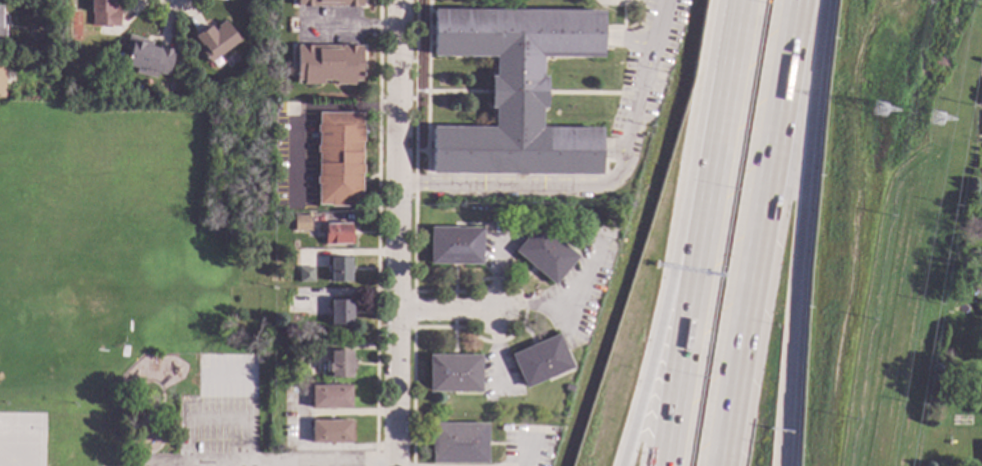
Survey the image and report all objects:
building: (328, 3)
building: (0, 13)
building: (103, 13)
road: (737, 26)
road: (351, 29)
building: (2, 37)
building: (215, 40)
building: (146, 58)
building: (327, 64)
building: (1, 78)
building: (101, 82)
building: (137, 88)
building: (515, 92)
road: (297, 109)
power tower: (880, 114)
power tower: (934, 124)
building: (981, 128)
building: (338, 159)
road: (603, 184)
building: (981, 201)
building: (301, 224)
building: (979, 227)
road: (398, 232)
road: (759, 232)
road: (800, 232)
building: (335, 234)
building: (455, 246)
building: (545, 254)
road: (676, 257)
road: (700, 259)
building: (339, 270)
building: (304, 275)
road: (563, 299)
building: (981, 301)
building: (298, 302)
road: (446, 312)
building: (339, 313)
building: (300, 353)
building: (540, 361)
building: (338, 364)
building: (454, 373)
road: (247, 375)
building: (569, 389)
building: (329, 397)
road: (215, 418)
building: (329, 432)
building: (458, 443)
building: (981, 451)
road: (268, 461)
road: (245, 464)

